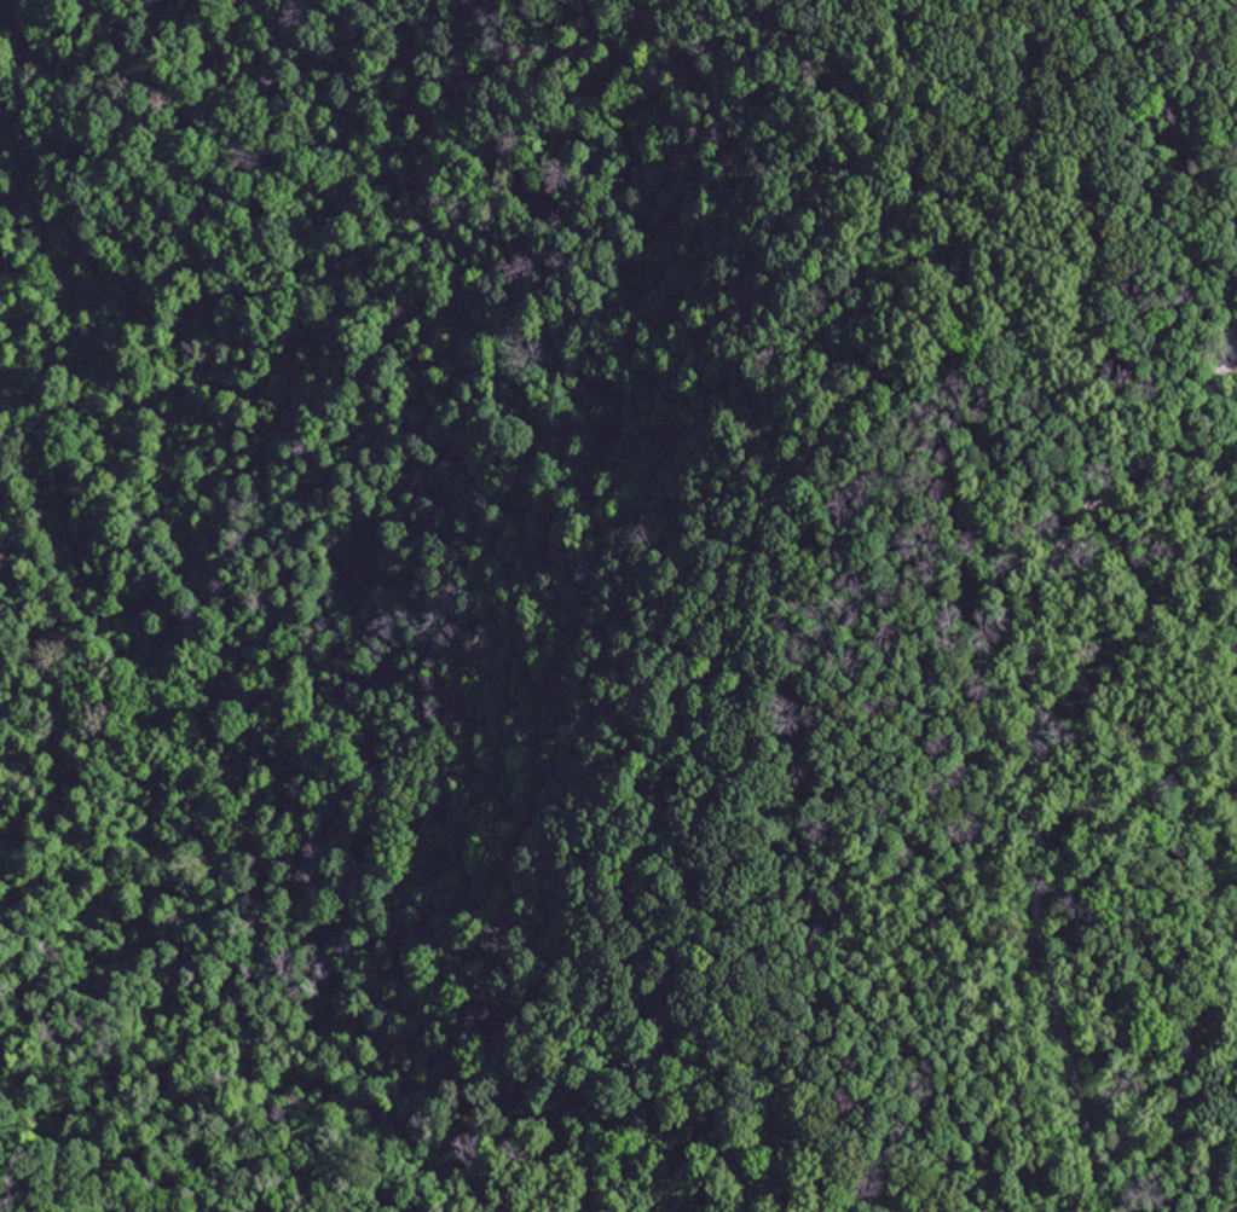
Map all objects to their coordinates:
road: (1232, 353)
road: (1034, 720)

